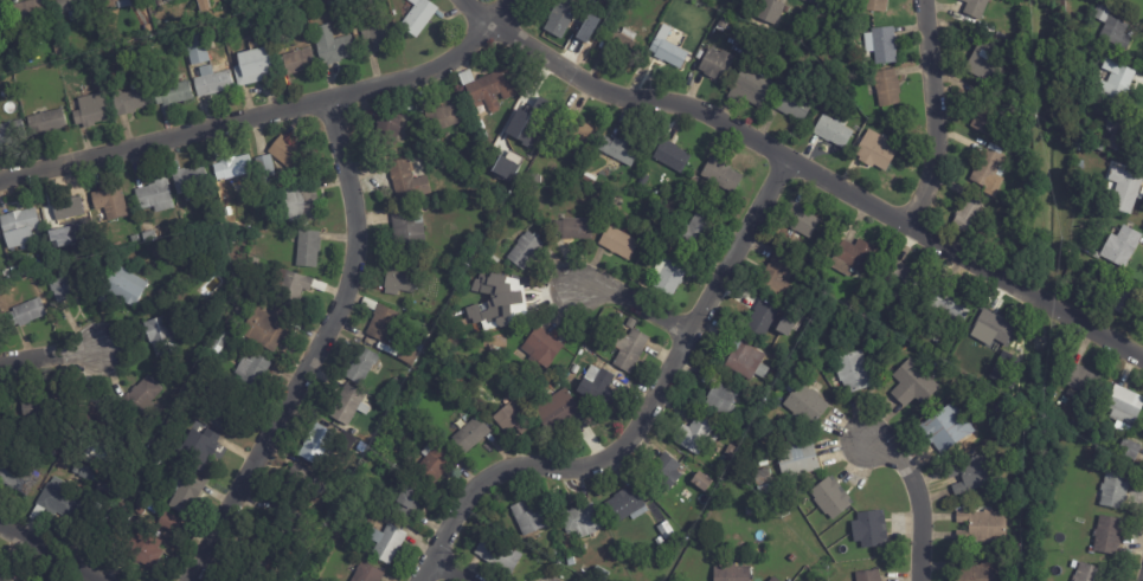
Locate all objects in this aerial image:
building: (169, 0)
building: (601, 0)
building: (606, 0)
building: (669, 0)
building: (153, 1)
building: (338, 1)
building: (810, 1)
building: (117, 4)
building: (233, 4)
building: (820, 6)
building: (874, 6)
building: (72, 7)
road: (481, 7)
road: (496, 7)
building: (974, 8)
building: (785, 9)
building: (770, 11)
building: (28, 12)
building: (604, 12)
building: (592, 14)
building: (2, 17)
building: (417, 17)
building: (561, 17)
building: (256, 18)
building: (820, 20)
building: (246, 21)
building: (723, 25)
building: (1112, 27)
building: (272, 30)
building: (628, 34)
building: (377, 37)
building: (882, 45)
building: (623, 46)
building: (334, 50)
building: (667, 50)
building: (57, 52)
building: (294, 63)
building: (984, 64)
building: (717, 65)
building: (251, 67)
building: (204, 69)
building: (1119, 83)
building: (537, 84)
building: (751, 86)
building: (488, 89)
building: (887, 89)
building: (172, 93)
building: (129, 101)
building: (791, 104)
building: (411, 106)
building: (90, 110)
building: (531, 112)
road: (925, 115)
building: (989, 116)
building: (443, 118)
road: (256, 121)
building: (45, 122)
building: (480, 125)
building: (578, 130)
building: (833, 130)
building: (1119, 130)
building: (386, 131)
building: (11, 133)
building: (483, 135)
building: (418, 137)
building: (1100, 149)
building: (618, 150)
building: (875, 151)
building: (285, 154)
building: (672, 156)
building: (531, 159)
building: (232, 168)
building: (264, 170)
building: (987, 170)
building: (721, 176)
building: (590, 177)
building: (188, 180)
building: (492, 181)
road: (817, 181)
building: (406, 182)
building: (632, 182)
building: (1123, 191)
building: (154, 196)
building: (108, 202)
building: (300, 204)
building: (64, 209)
building: (970, 213)
building: (800, 220)
building: (18, 222)
building: (576, 228)
building: (261, 230)
building: (694, 230)
building: (405, 231)
building: (147, 238)
building: (654, 243)
building: (617, 244)
building: (1120, 247)
building: (307, 250)
building: (525, 251)
building: (46, 257)
building: (462, 257)
building: (853, 258)
building: (490, 260)
building: (251, 264)
building: (672, 275)
building: (778, 275)
building: (903, 279)
building: (400, 280)
building: (69, 286)
building: (293, 288)
building: (121, 289)
building: (1124, 298)
building: (242, 304)
building: (367, 304)
building: (512, 305)
road: (635, 306)
building: (950, 306)
building: (26, 314)
building: (765, 321)
building: (225, 325)
building: (385, 327)
building: (265, 329)
building: (919, 329)
building: (899, 330)
building: (991, 330)
building: (798, 335)
building: (160, 336)
building: (219, 341)
building: (795, 347)
building: (967, 347)
building: (542, 348)
road: (310, 349)
building: (628, 349)
building: (409, 353)
building: (789, 354)
road: (45, 361)
building: (745, 363)
building: (360, 366)
building: (961, 368)
building: (783, 369)
building: (853, 373)
building: (251, 374)
building: (570, 379)
building: (1080, 380)
building: (396, 383)
building: (913, 385)
building: (598, 392)
building: (720, 399)
building: (141, 401)
building: (804, 405)
building: (348, 406)
building: (1124, 407)
building: (41, 409)
building: (556, 412)
building: (225, 413)
road: (635, 415)
building: (95, 420)
building: (511, 420)
building: (1062, 424)
building: (946, 430)
building: (470, 435)
building: (695, 437)
building: (314, 446)
building: (1129, 450)
building: (200, 451)
building: (730, 452)
building: (754, 454)
building: (154, 460)
building: (801, 460)
building: (763, 464)
building: (432, 465)
building: (75, 470)
building: (664, 472)
building: (976, 475)
building: (86, 476)
building: (15, 479)
building: (700, 483)
building: (763, 483)
building: (301, 485)
building: (110, 490)
building: (1115, 491)
building: (184, 493)
building: (829, 498)
building: (776, 499)
building: (54, 502)
building: (411, 502)
road: (912, 503)
building: (624, 506)
building: (527, 519)
building: (579, 522)
building: (101, 524)
building: (167, 524)
building: (983, 528)
building: (664, 531)
building: (871, 531)
building: (290, 534)
building: (1109, 536)
building: (659, 542)
building: (385, 543)
building: (141, 550)
road: (47, 554)
building: (553, 555)
building: (497, 556)
building: (792, 559)
building: (570, 563)
building: (251, 564)
building: (975, 572)
road: (449, 573)
building: (1087, 573)
building: (366, 574)
building: (601, 574)
building: (731, 574)
building: (868, 576)
building: (1, 577)
building: (773, 580)

